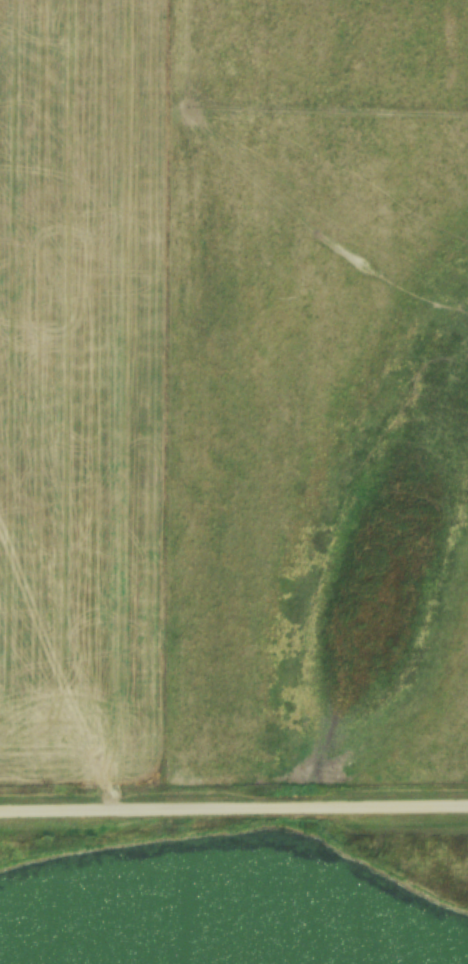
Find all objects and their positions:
road: (234, 804)

